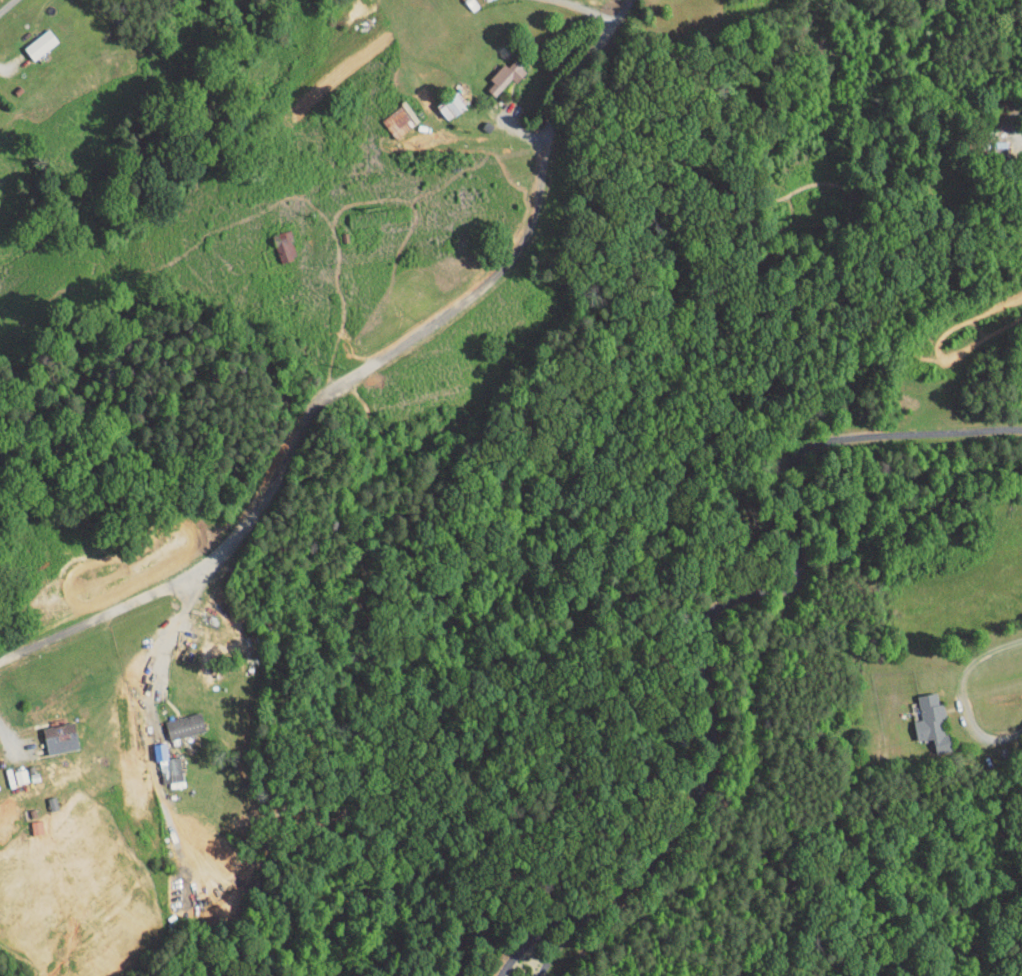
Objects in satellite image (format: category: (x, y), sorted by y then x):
road: (5, 4)
road: (589, 11)
building: (30, 38)
road: (7, 63)
building: (495, 70)
building: (441, 100)
road: (997, 111)
building: (389, 114)
road: (544, 131)
building: (274, 240)
road: (259, 488)
road: (717, 608)
road: (166, 637)
road: (960, 694)
building: (921, 716)
building: (174, 718)
building: (50, 731)
road: (10, 739)
building: (156, 757)
building: (10, 769)
building: (26, 820)

